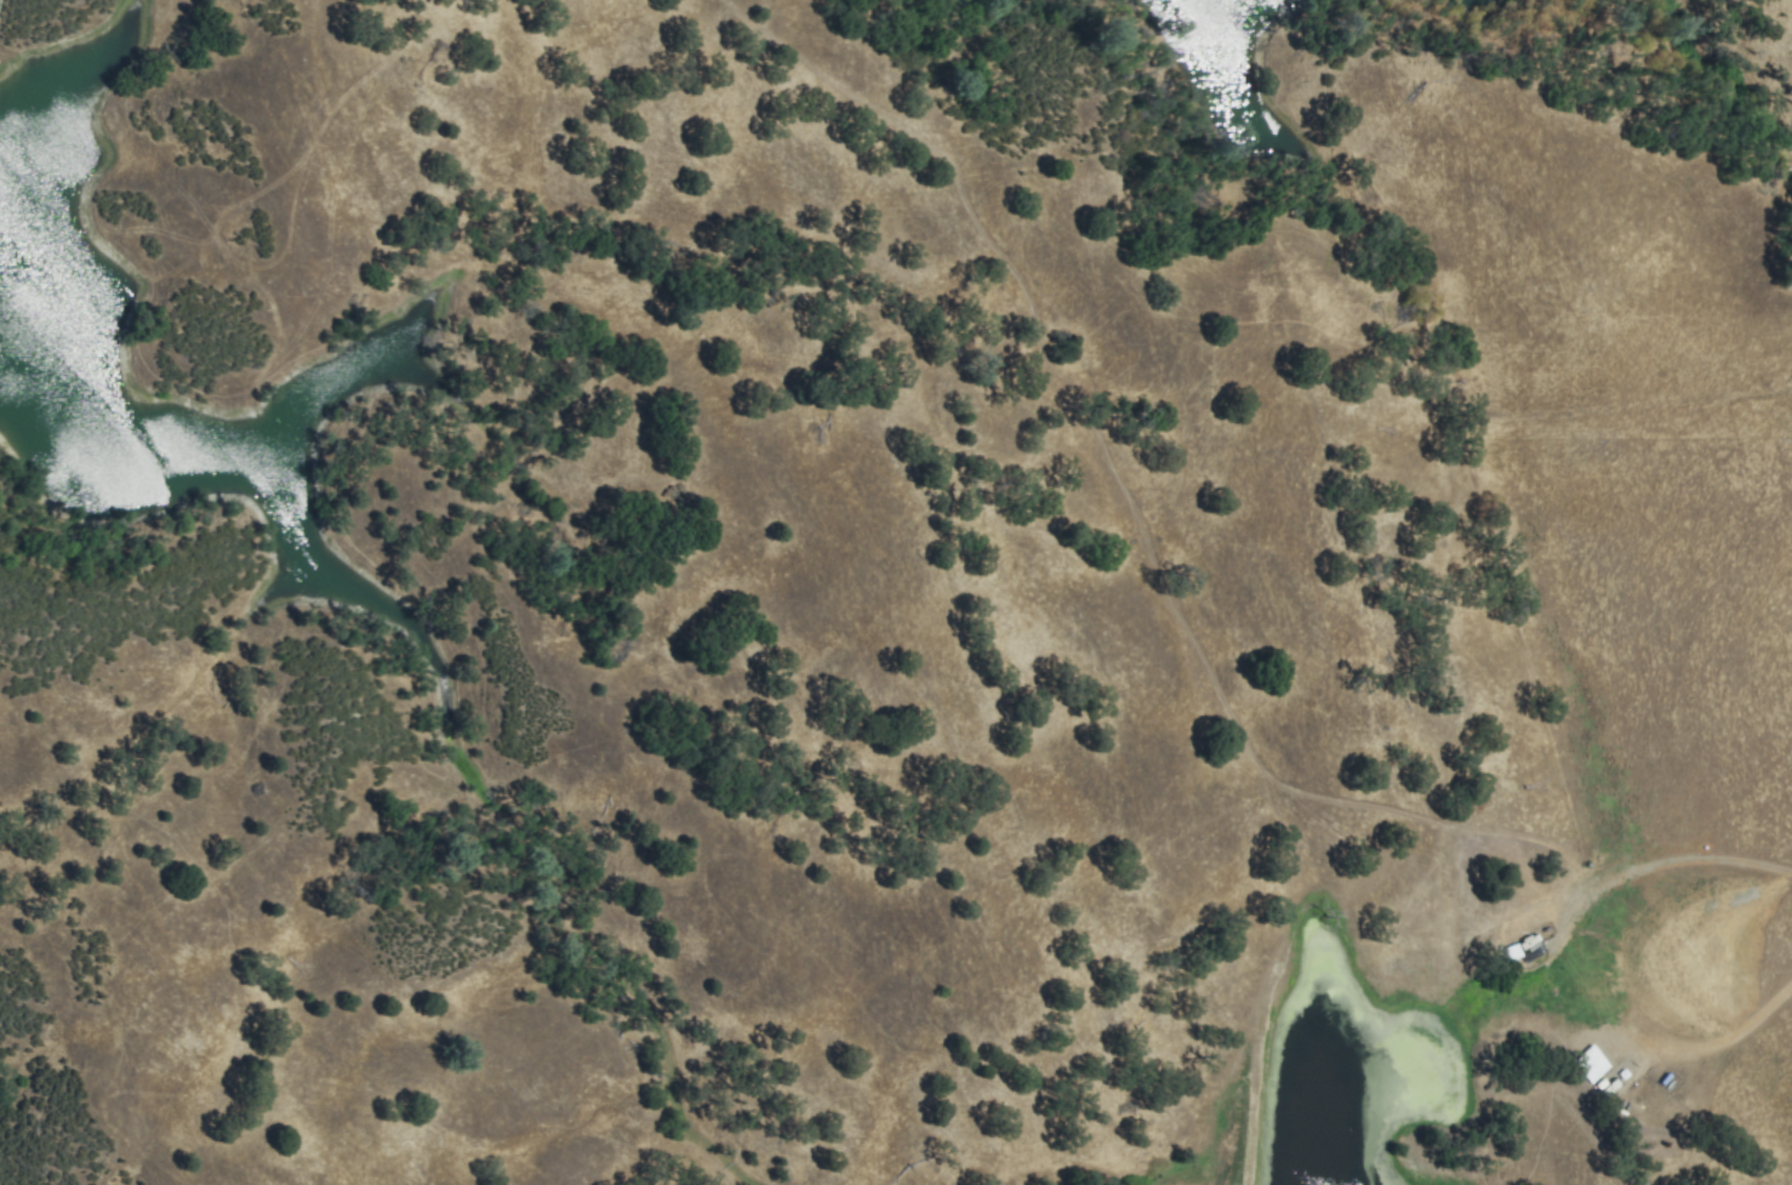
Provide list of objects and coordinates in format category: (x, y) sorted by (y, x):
building: (1591, 1065)

